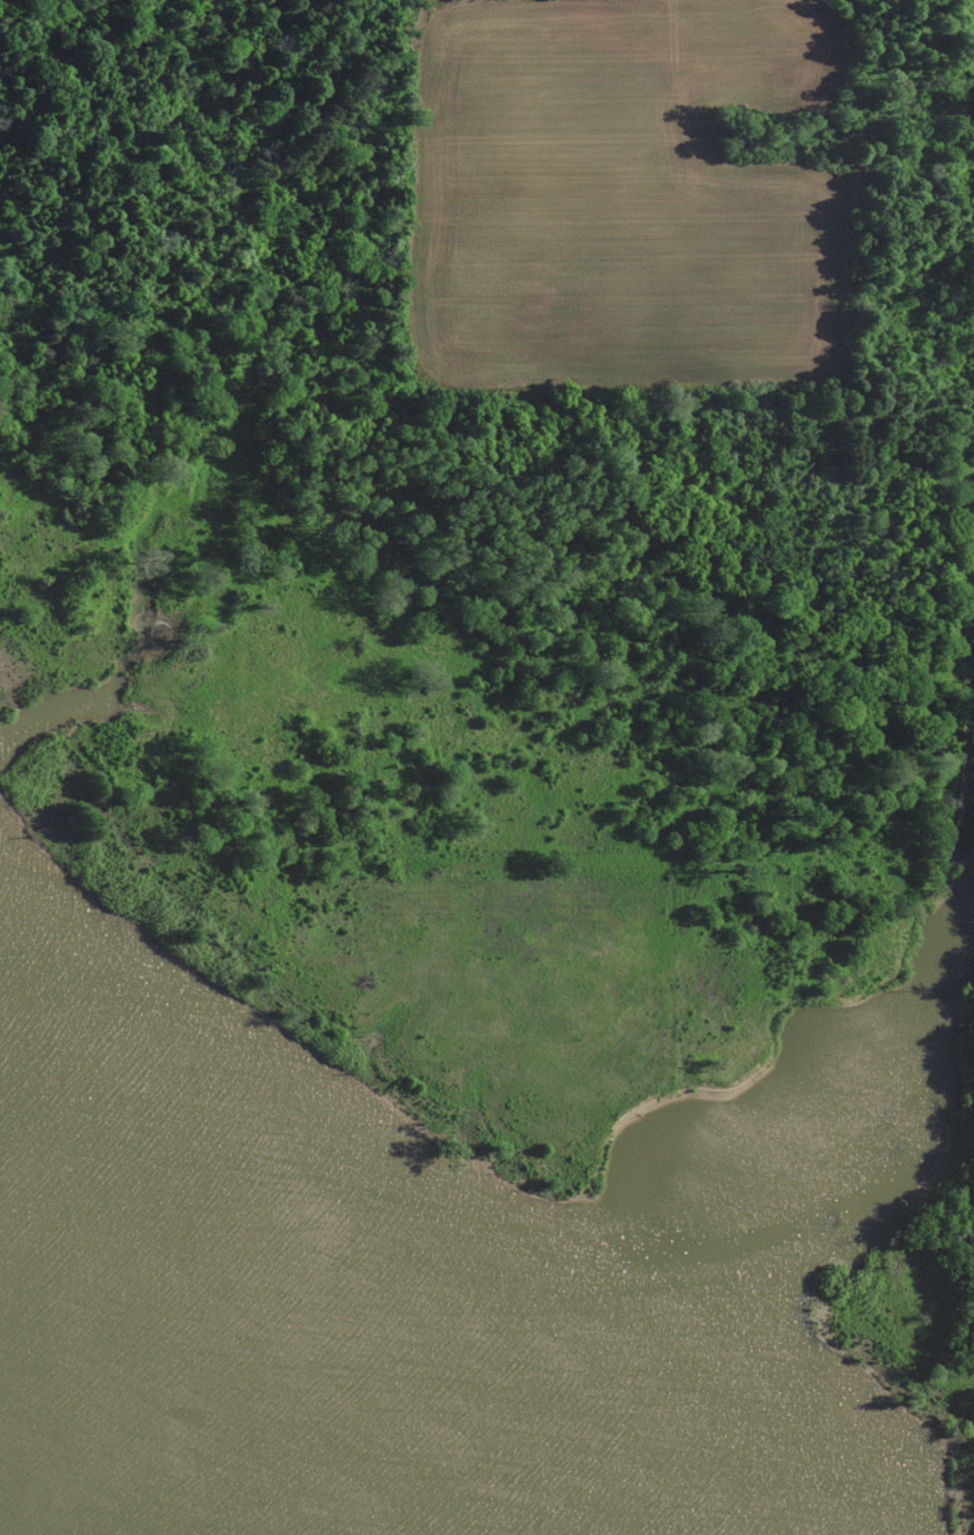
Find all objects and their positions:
river: (205, 1408)

